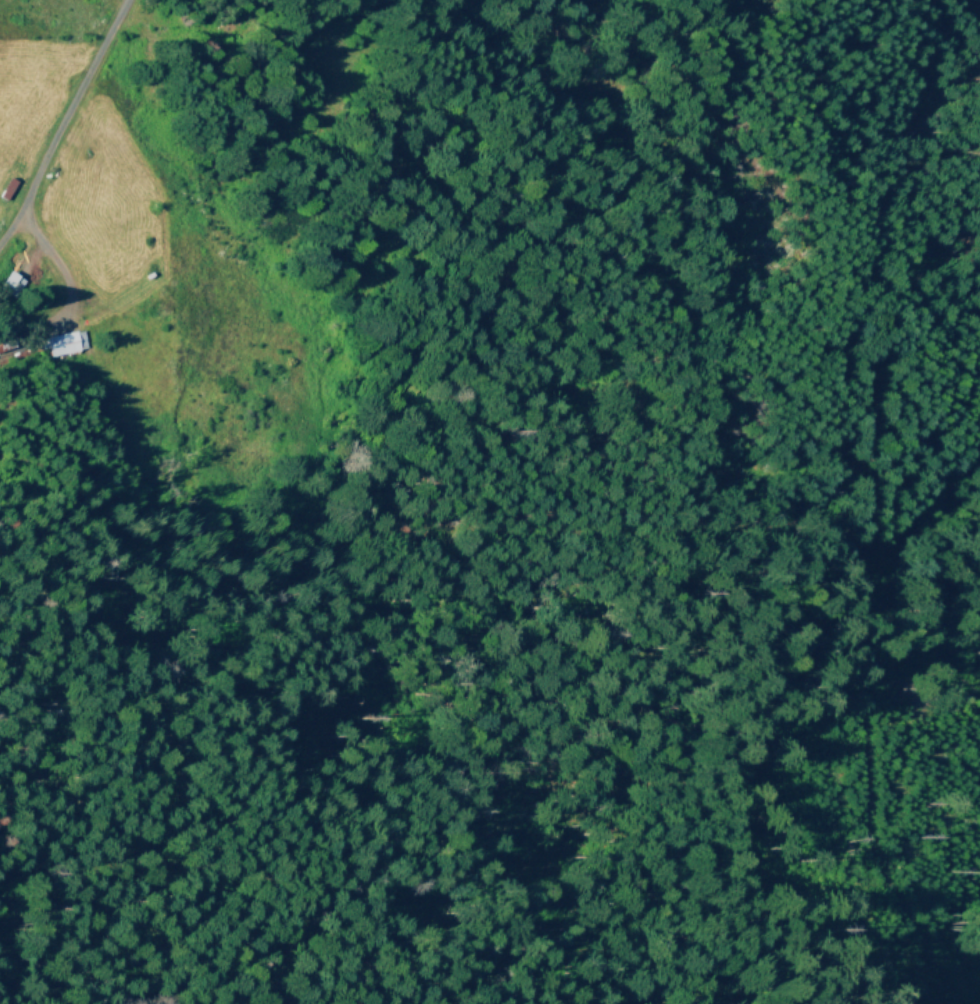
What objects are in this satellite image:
building: (64, 341)

